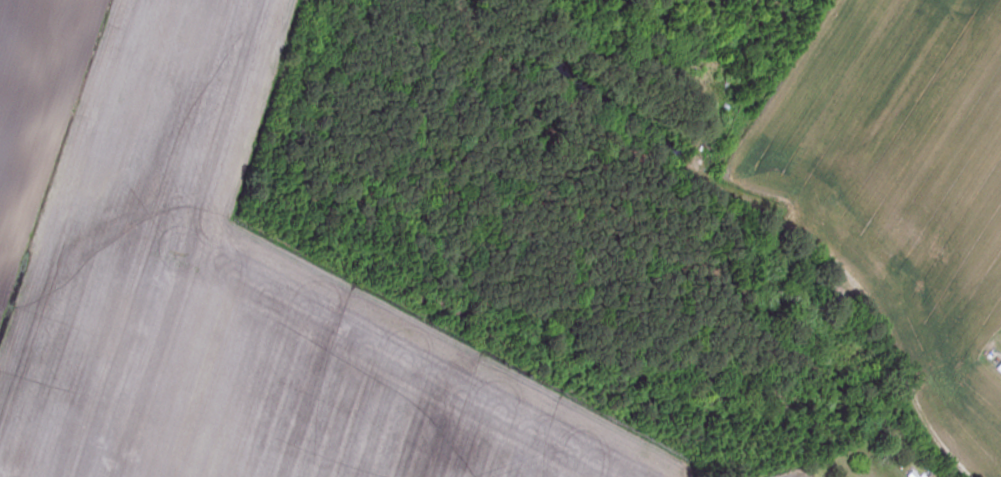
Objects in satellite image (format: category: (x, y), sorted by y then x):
building: (728, 83)
building: (824, 236)
building: (899, 250)
building: (998, 367)

